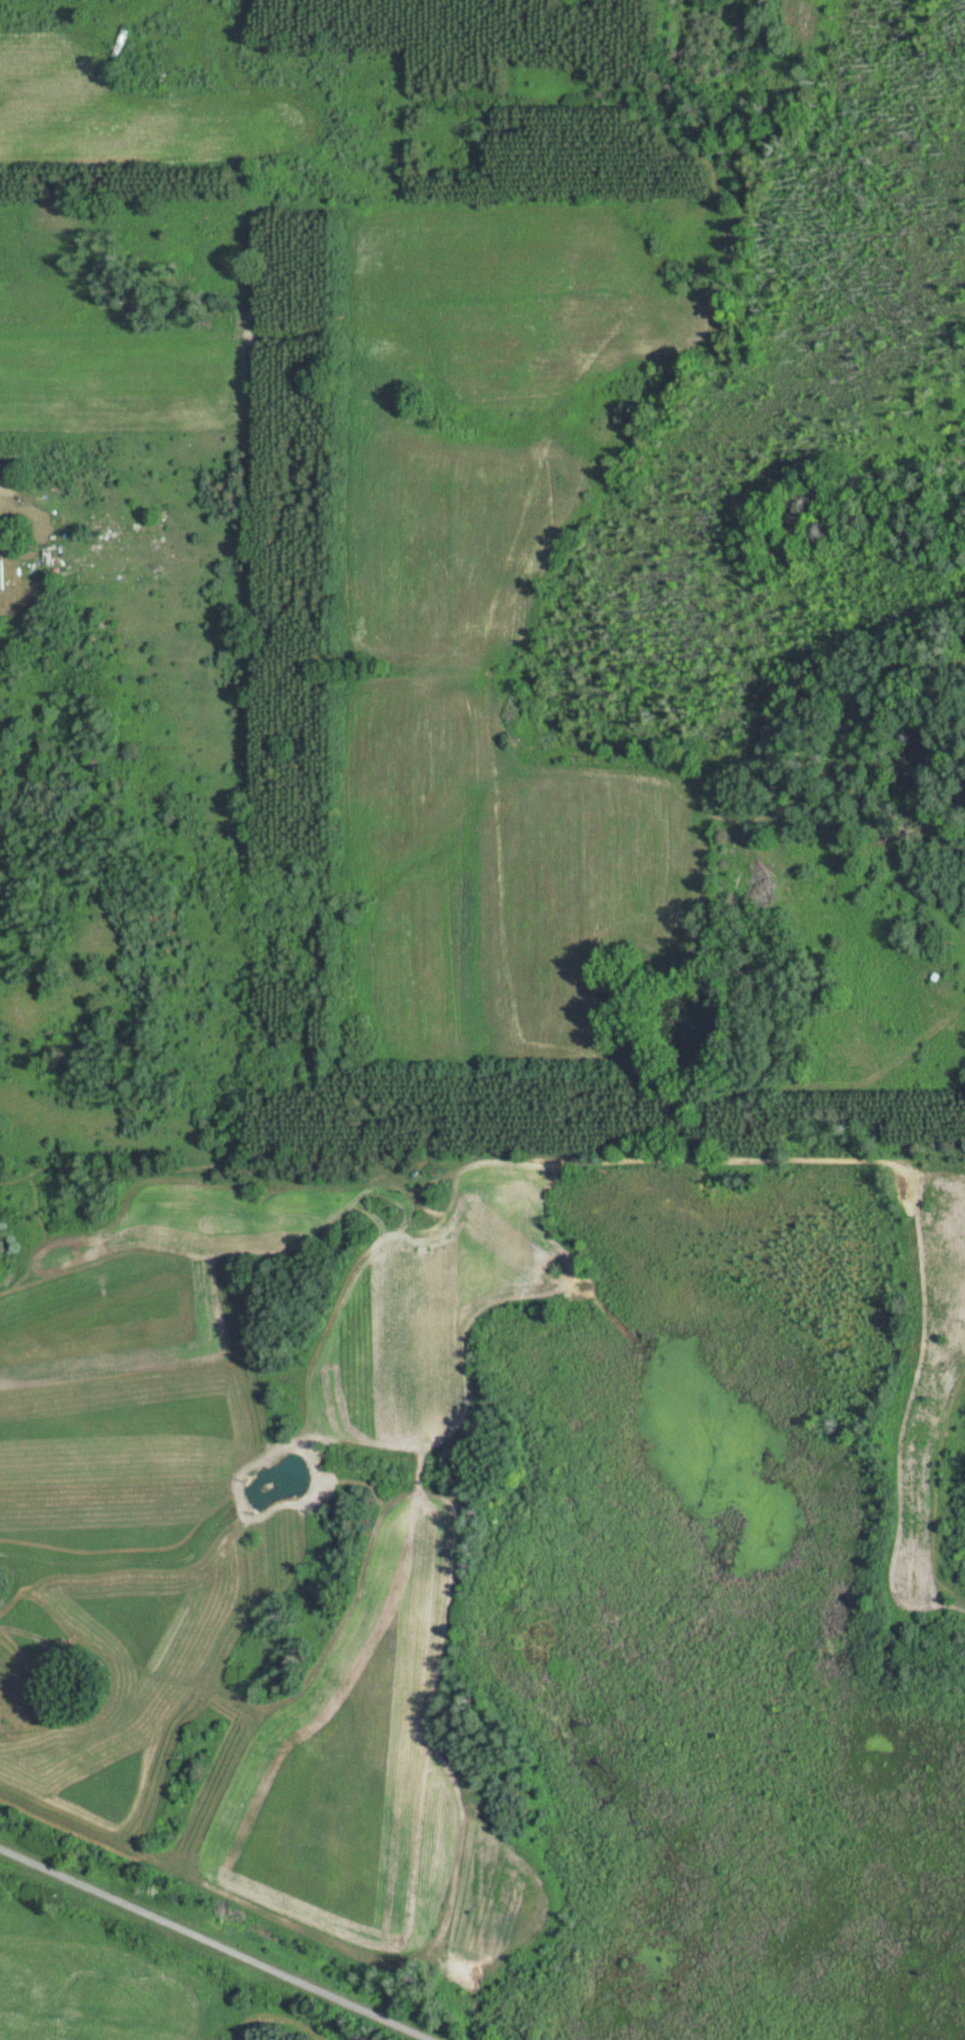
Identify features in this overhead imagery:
building: (122, 43)
building: (3, 575)
road: (216, 1943)

